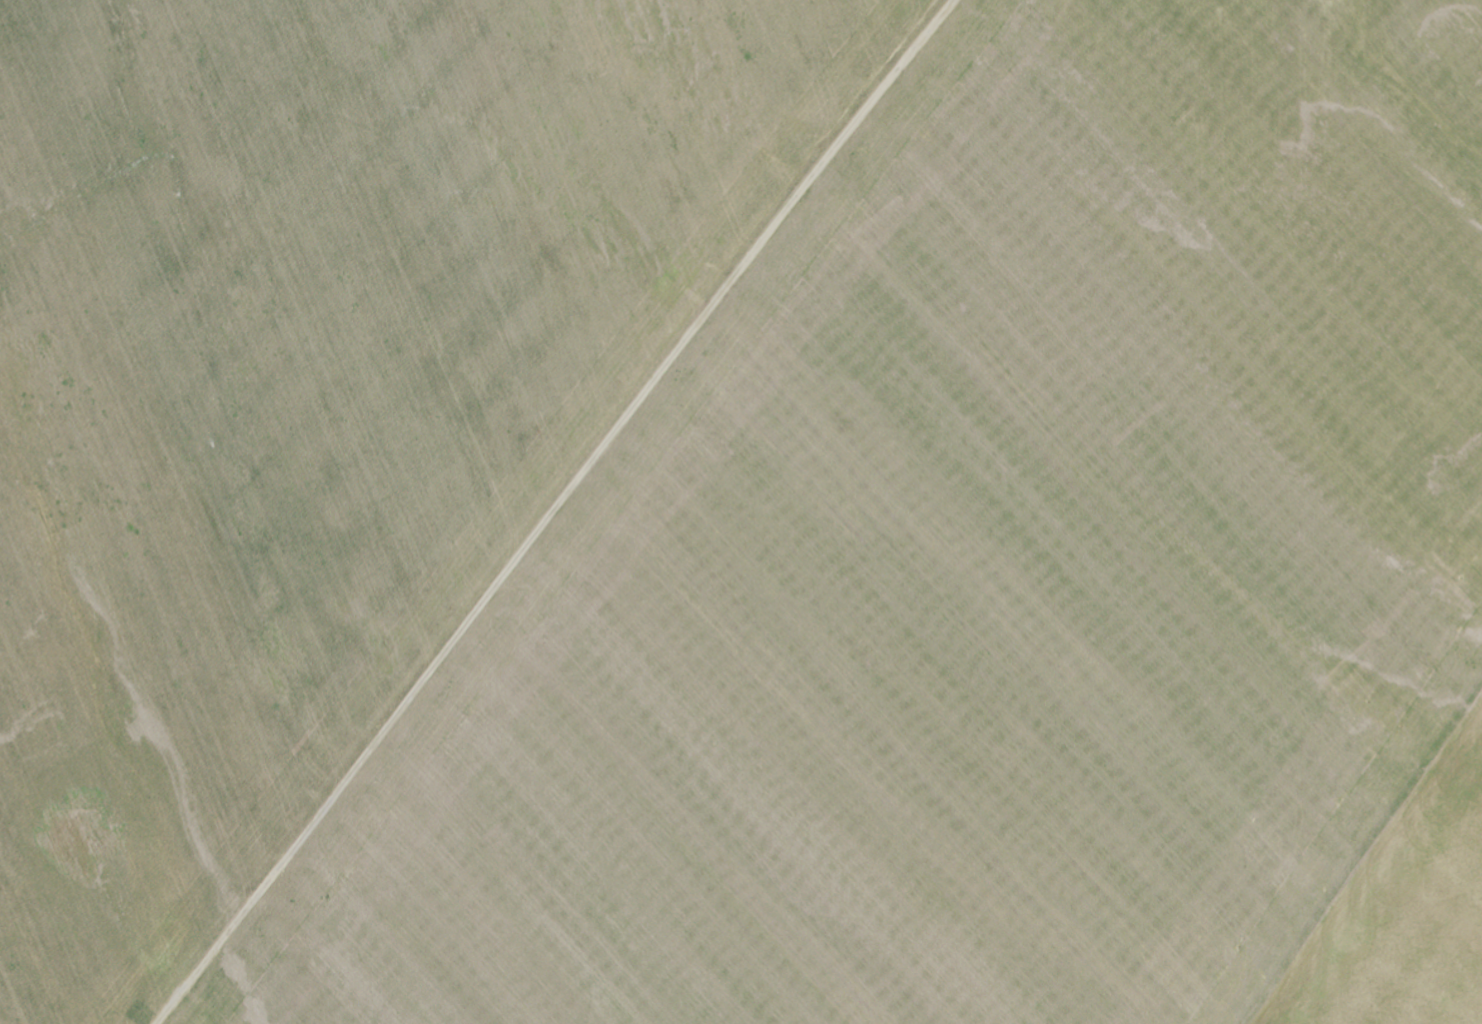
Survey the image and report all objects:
road: (555, 512)

